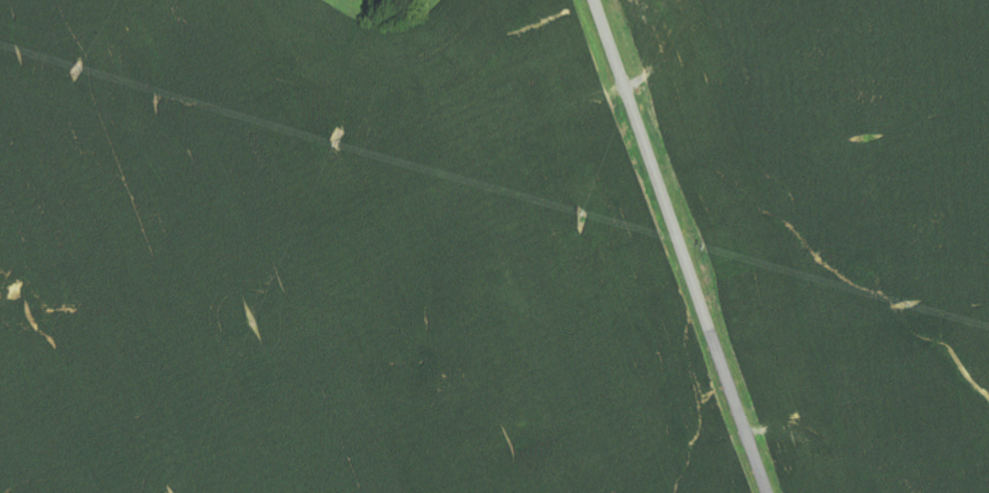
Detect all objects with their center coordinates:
road: (681, 246)

